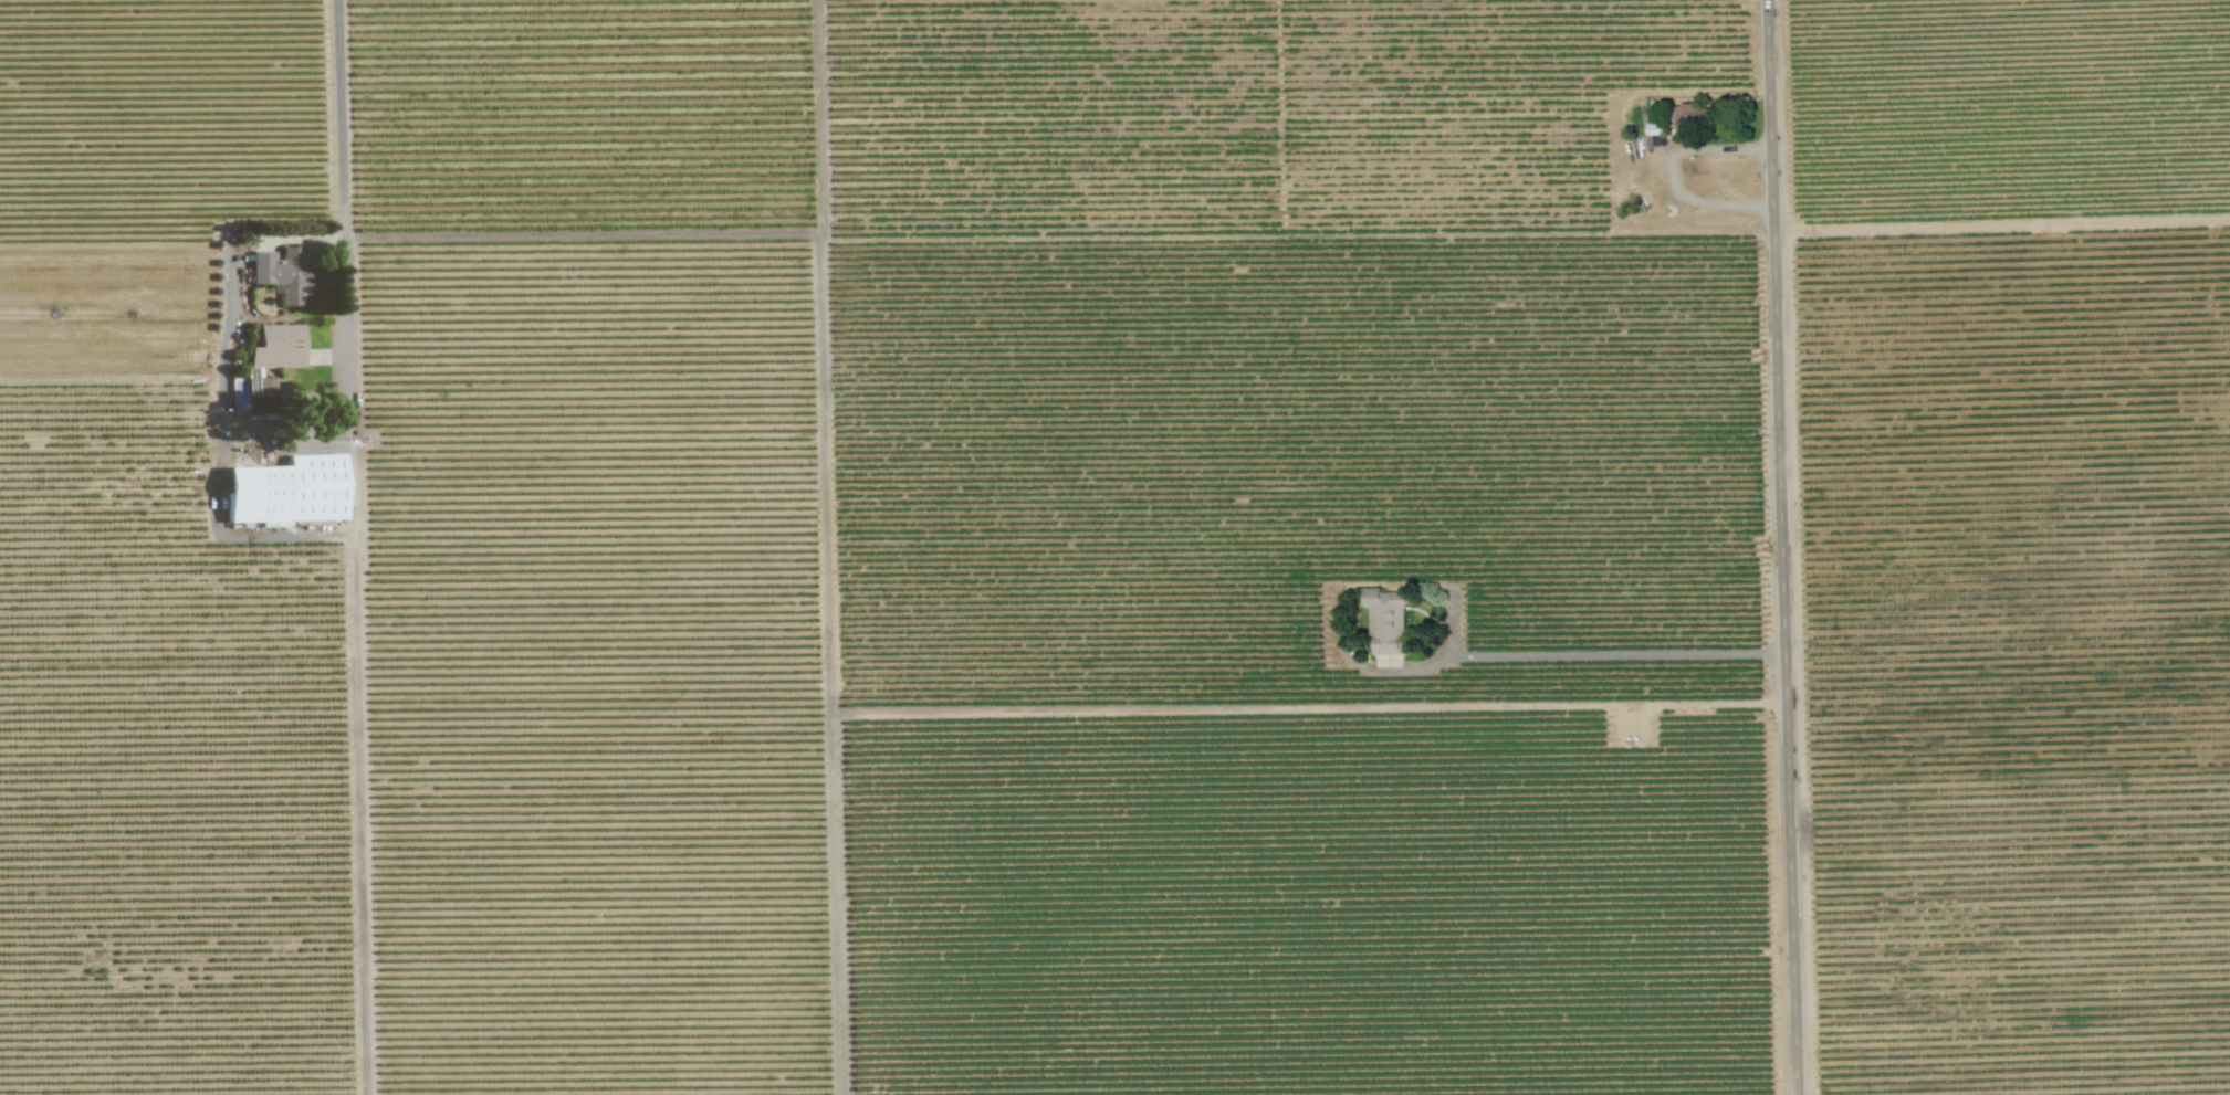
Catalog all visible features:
building: (1692, 114)
road: (1668, 173)
building: (282, 272)
building: (278, 346)
road: (286, 430)
road: (219, 457)
building: (286, 491)
road: (355, 547)
road: (1784, 547)
building: (1384, 621)
road: (1616, 652)
building: (1386, 660)

